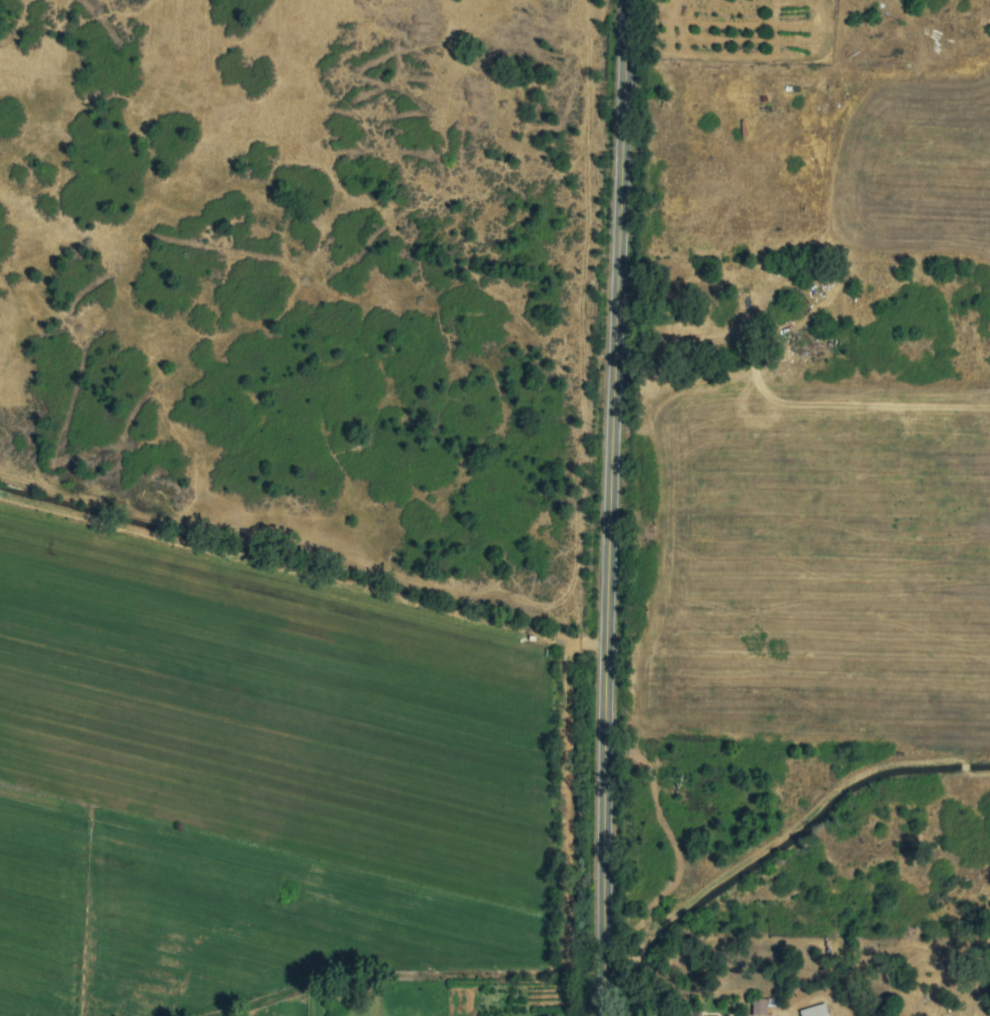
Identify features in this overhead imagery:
road: (612, 507)
building: (758, 1007)
building: (814, 1011)
building: (691, 1015)

